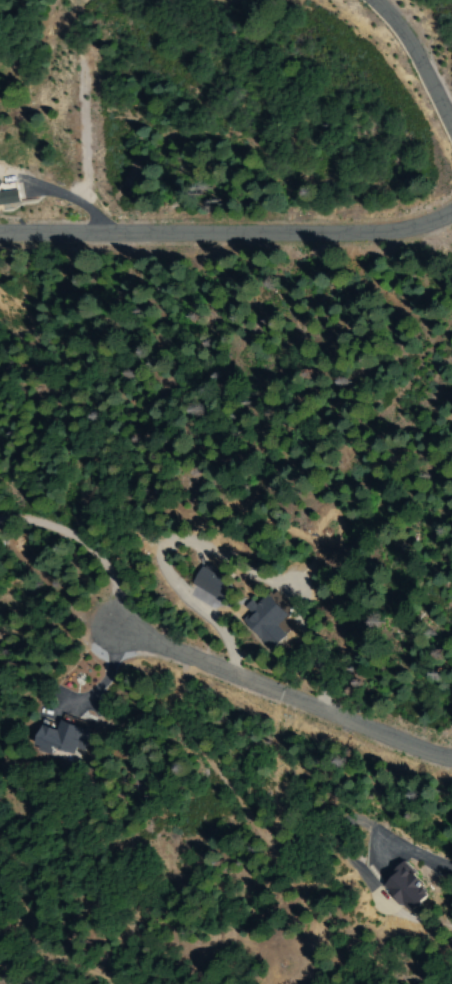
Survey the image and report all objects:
road: (423, 54)
building: (0, 182)
building: (5, 201)
road: (228, 236)
road: (85, 541)
building: (208, 583)
building: (264, 621)
road: (110, 675)
road: (285, 690)
building: (55, 739)
road: (408, 846)
building: (405, 887)

